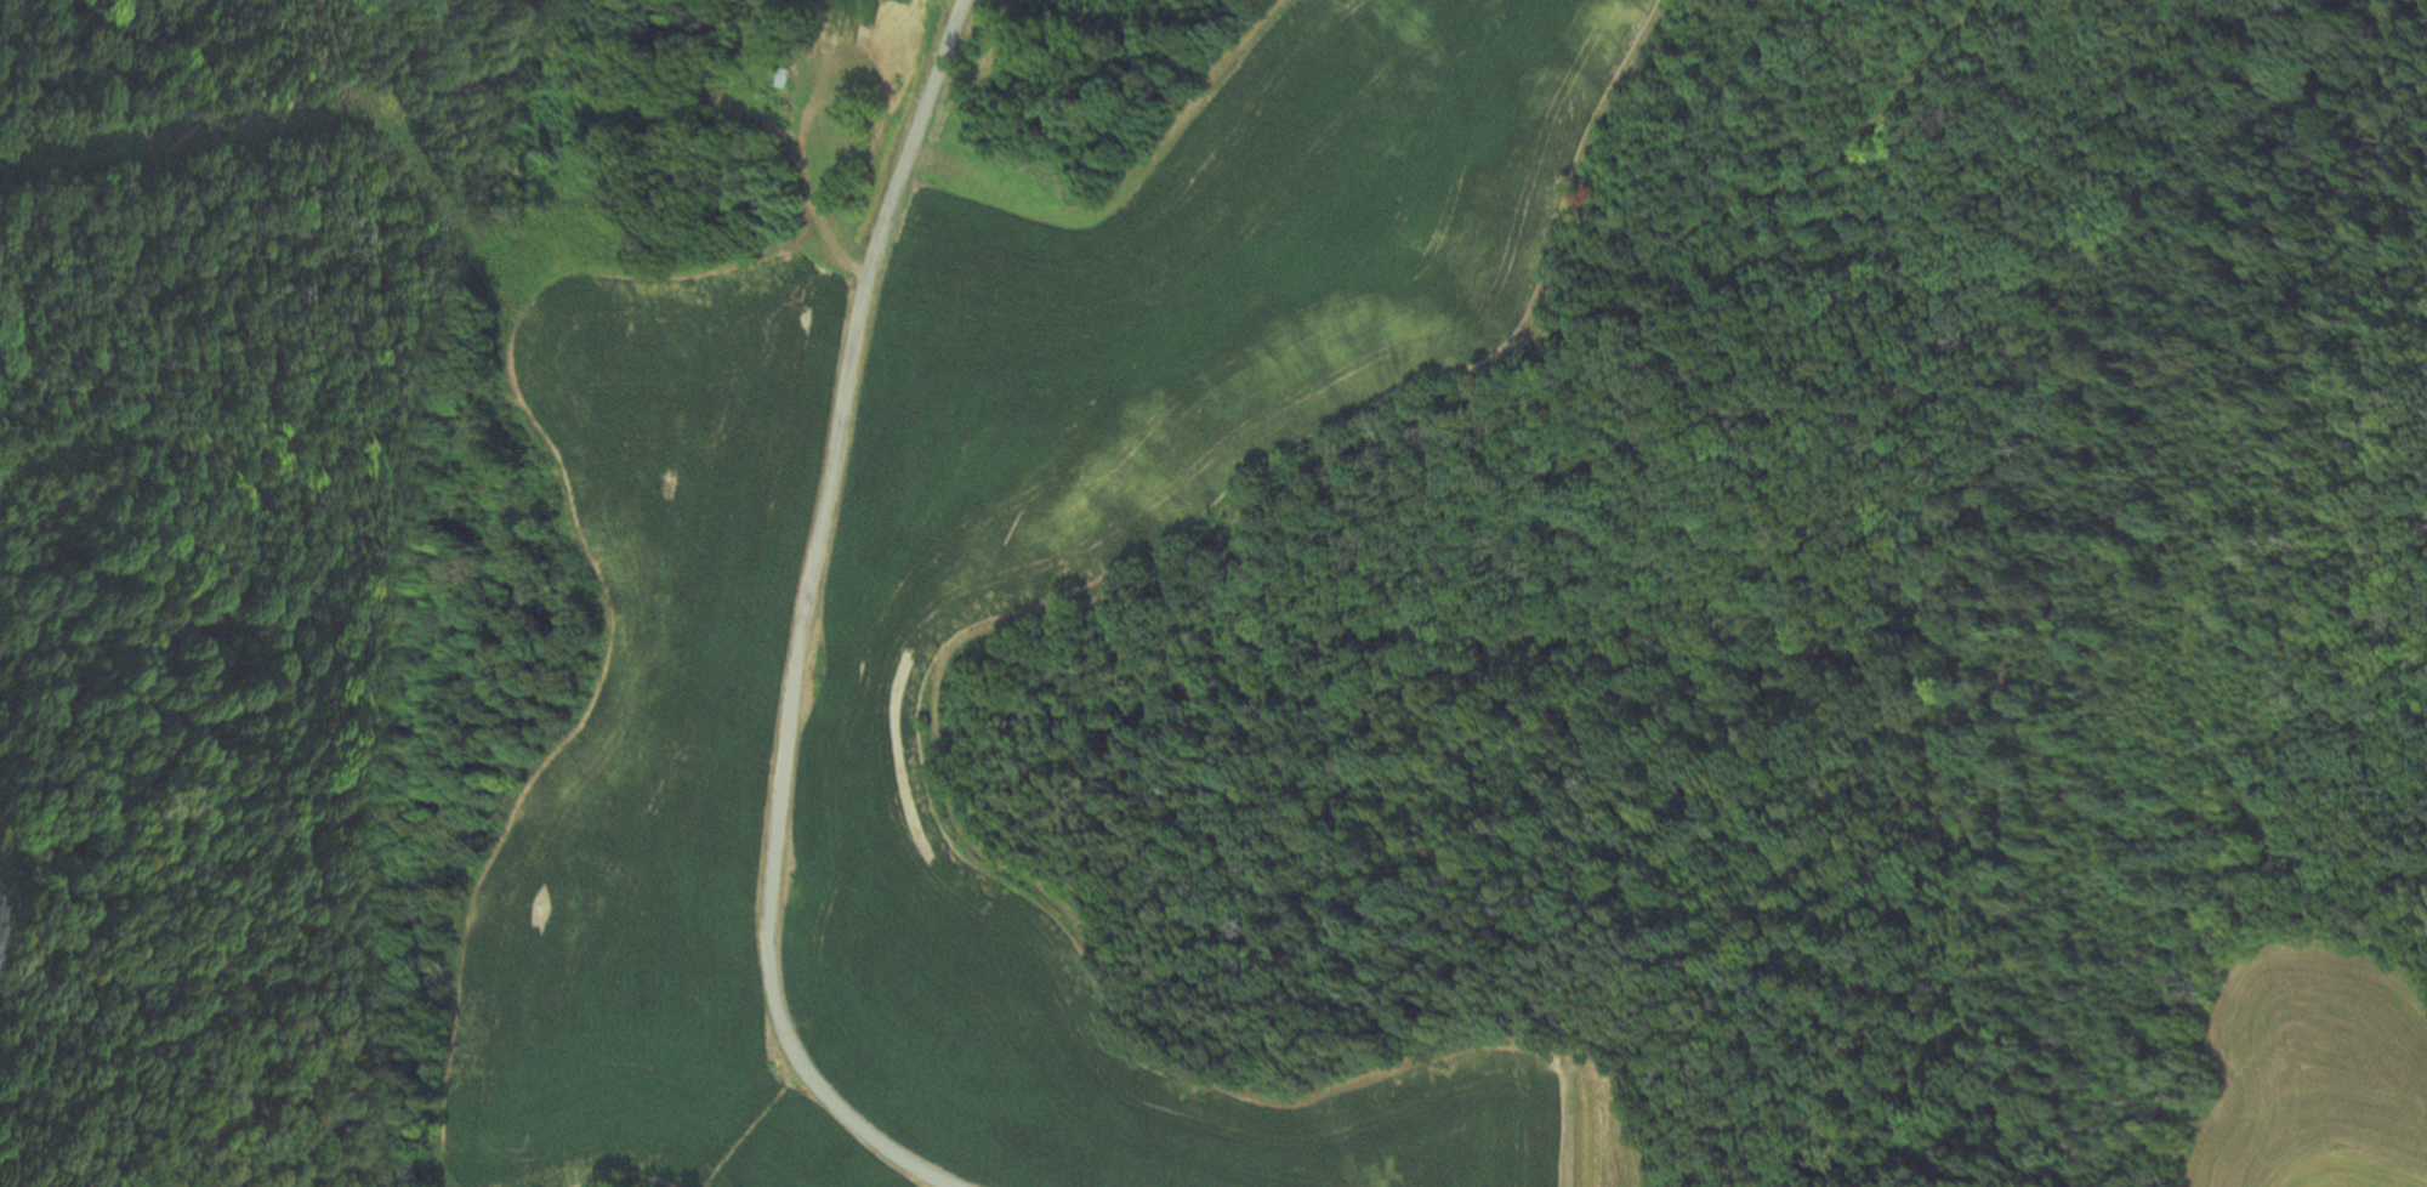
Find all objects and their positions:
road: (800, 624)

